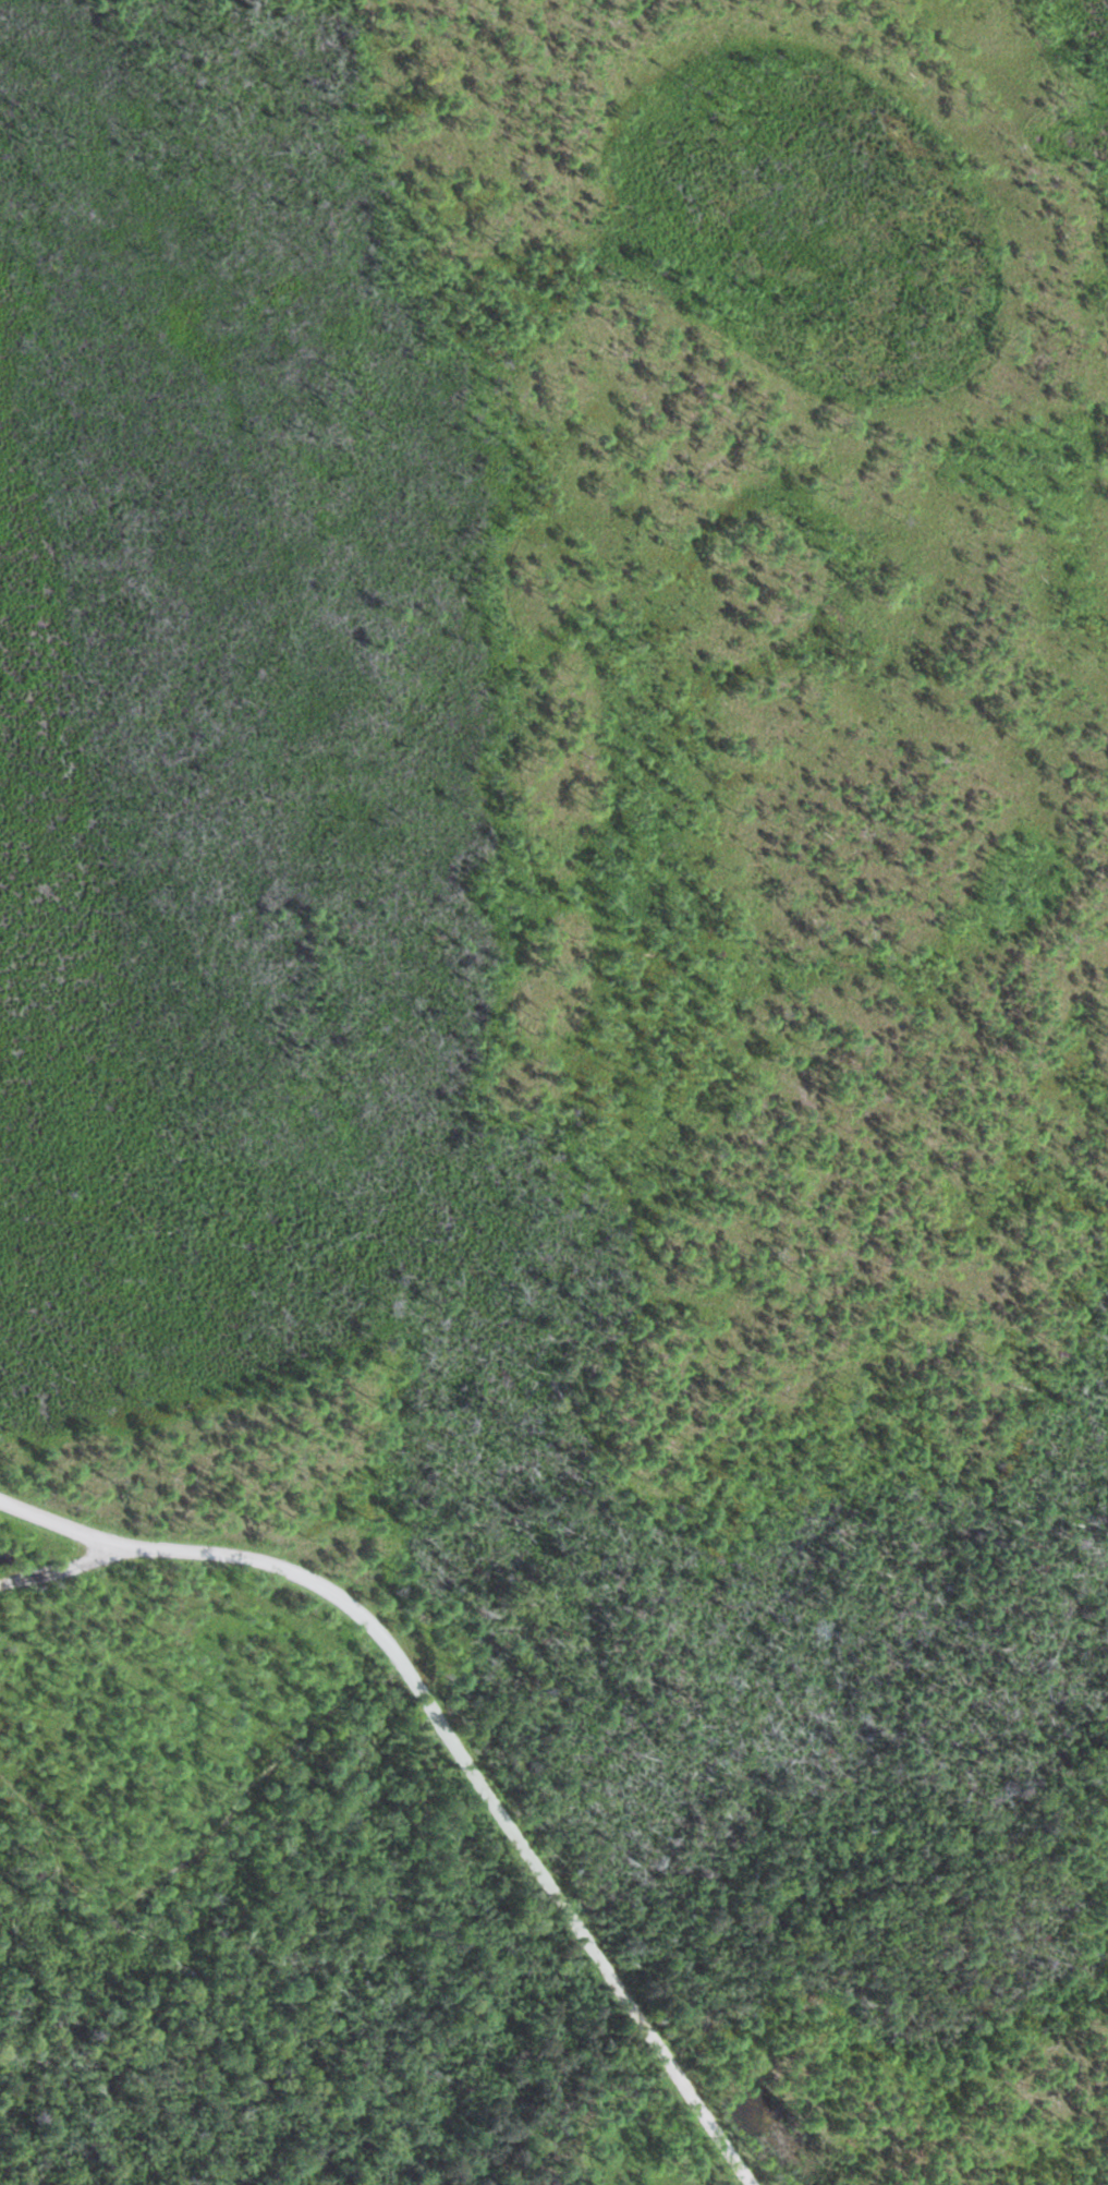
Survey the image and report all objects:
road: (58, 1522)
road: (60, 1567)
road: (487, 1789)

